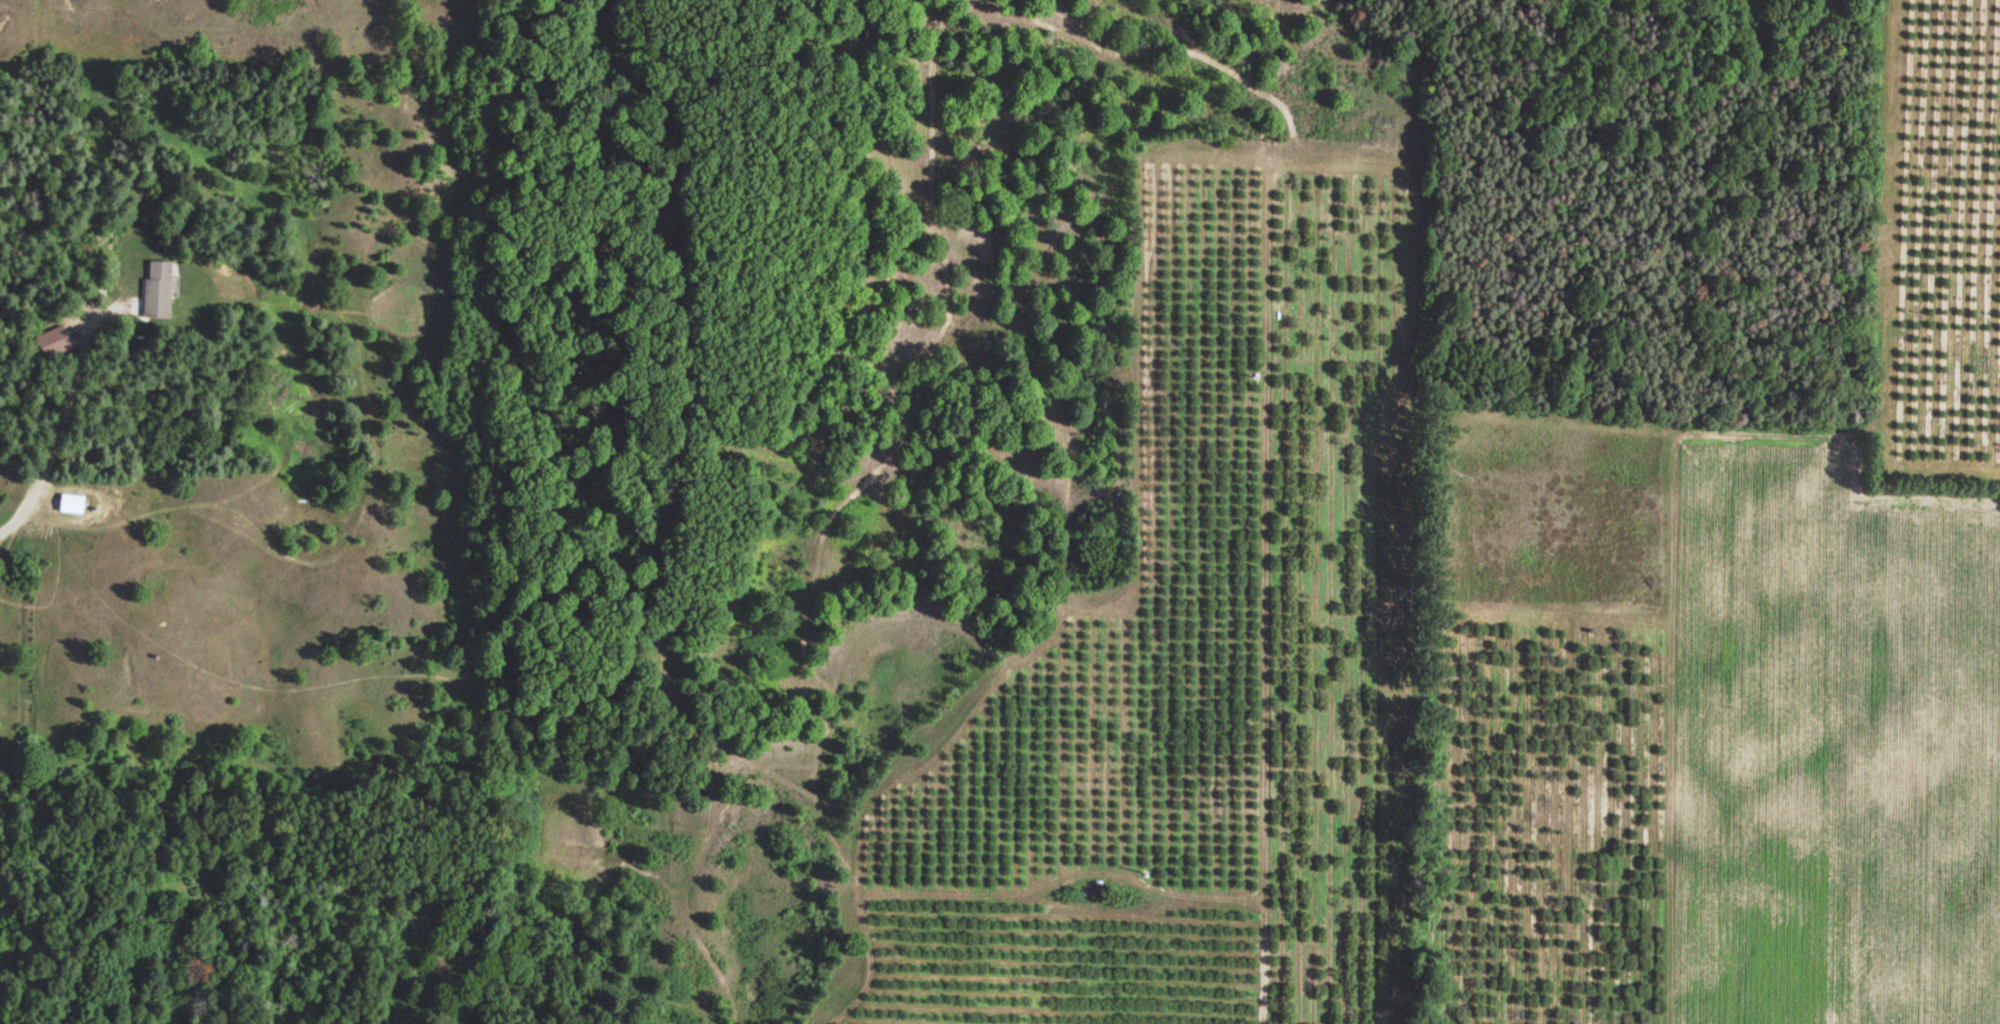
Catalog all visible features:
building: (154, 291)
building: (50, 343)

